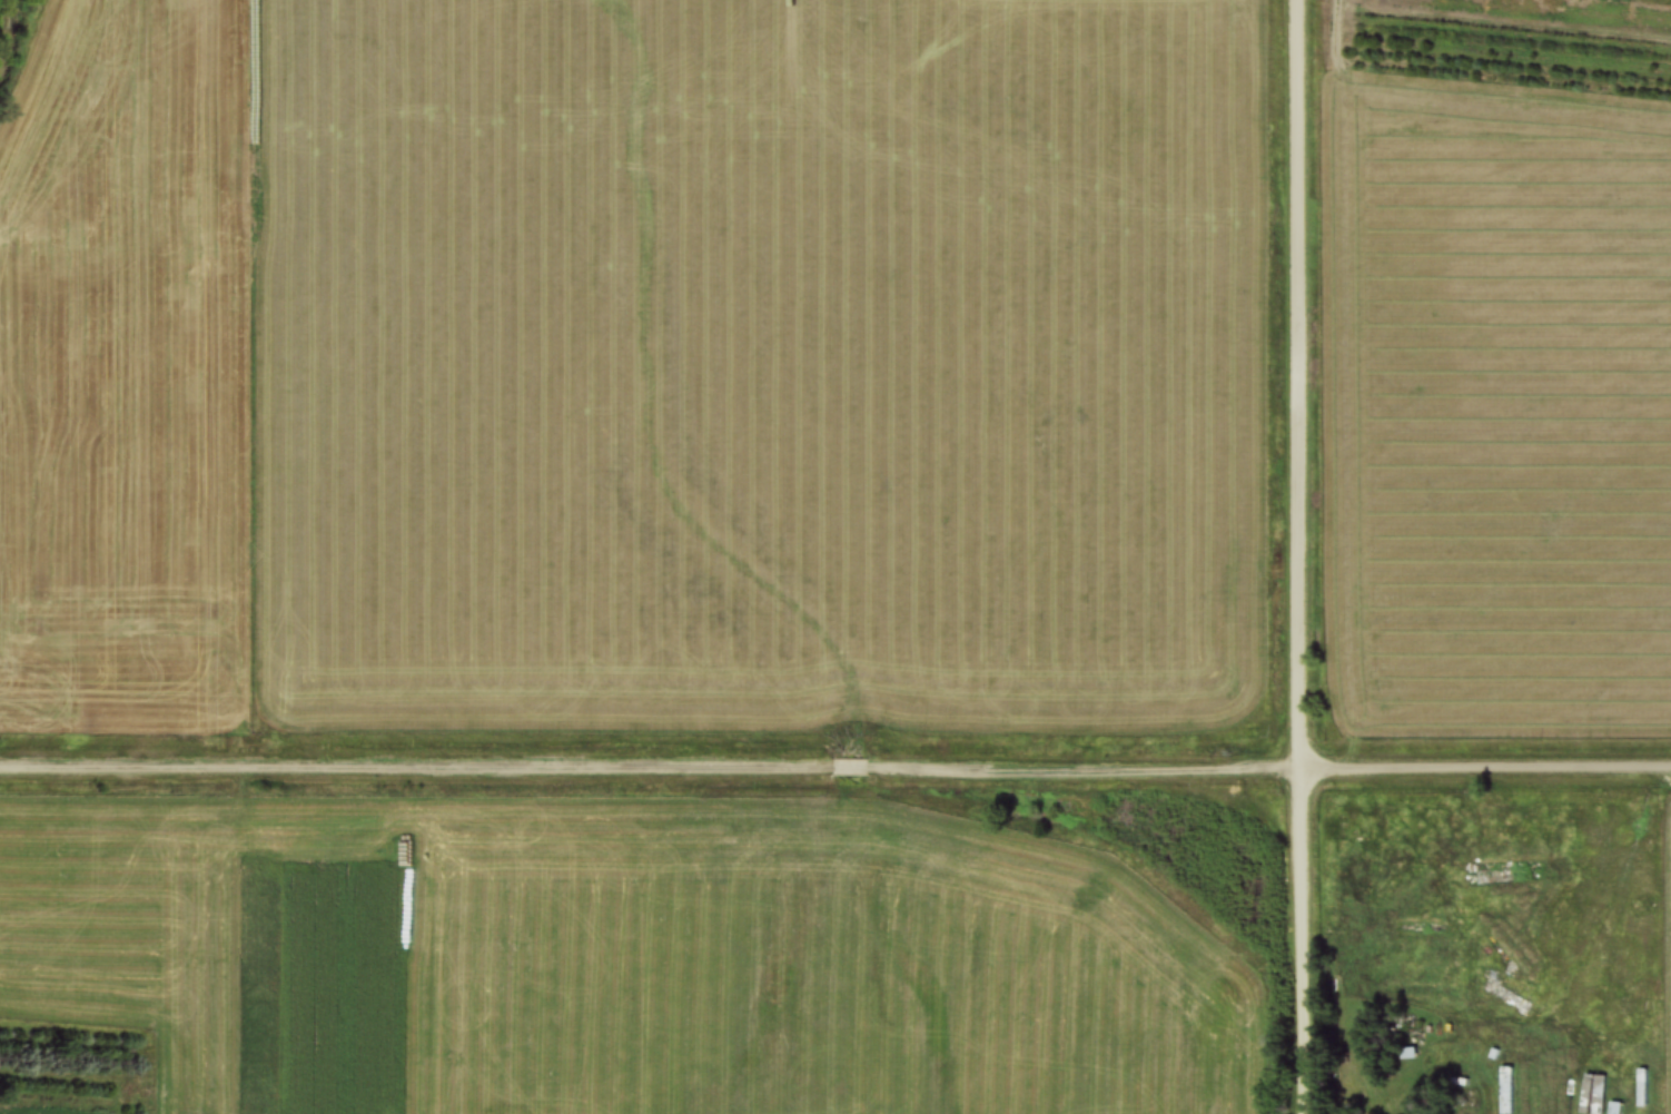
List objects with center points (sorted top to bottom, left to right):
road: (1302, 556)
road: (834, 763)
building: (1341, 1036)

